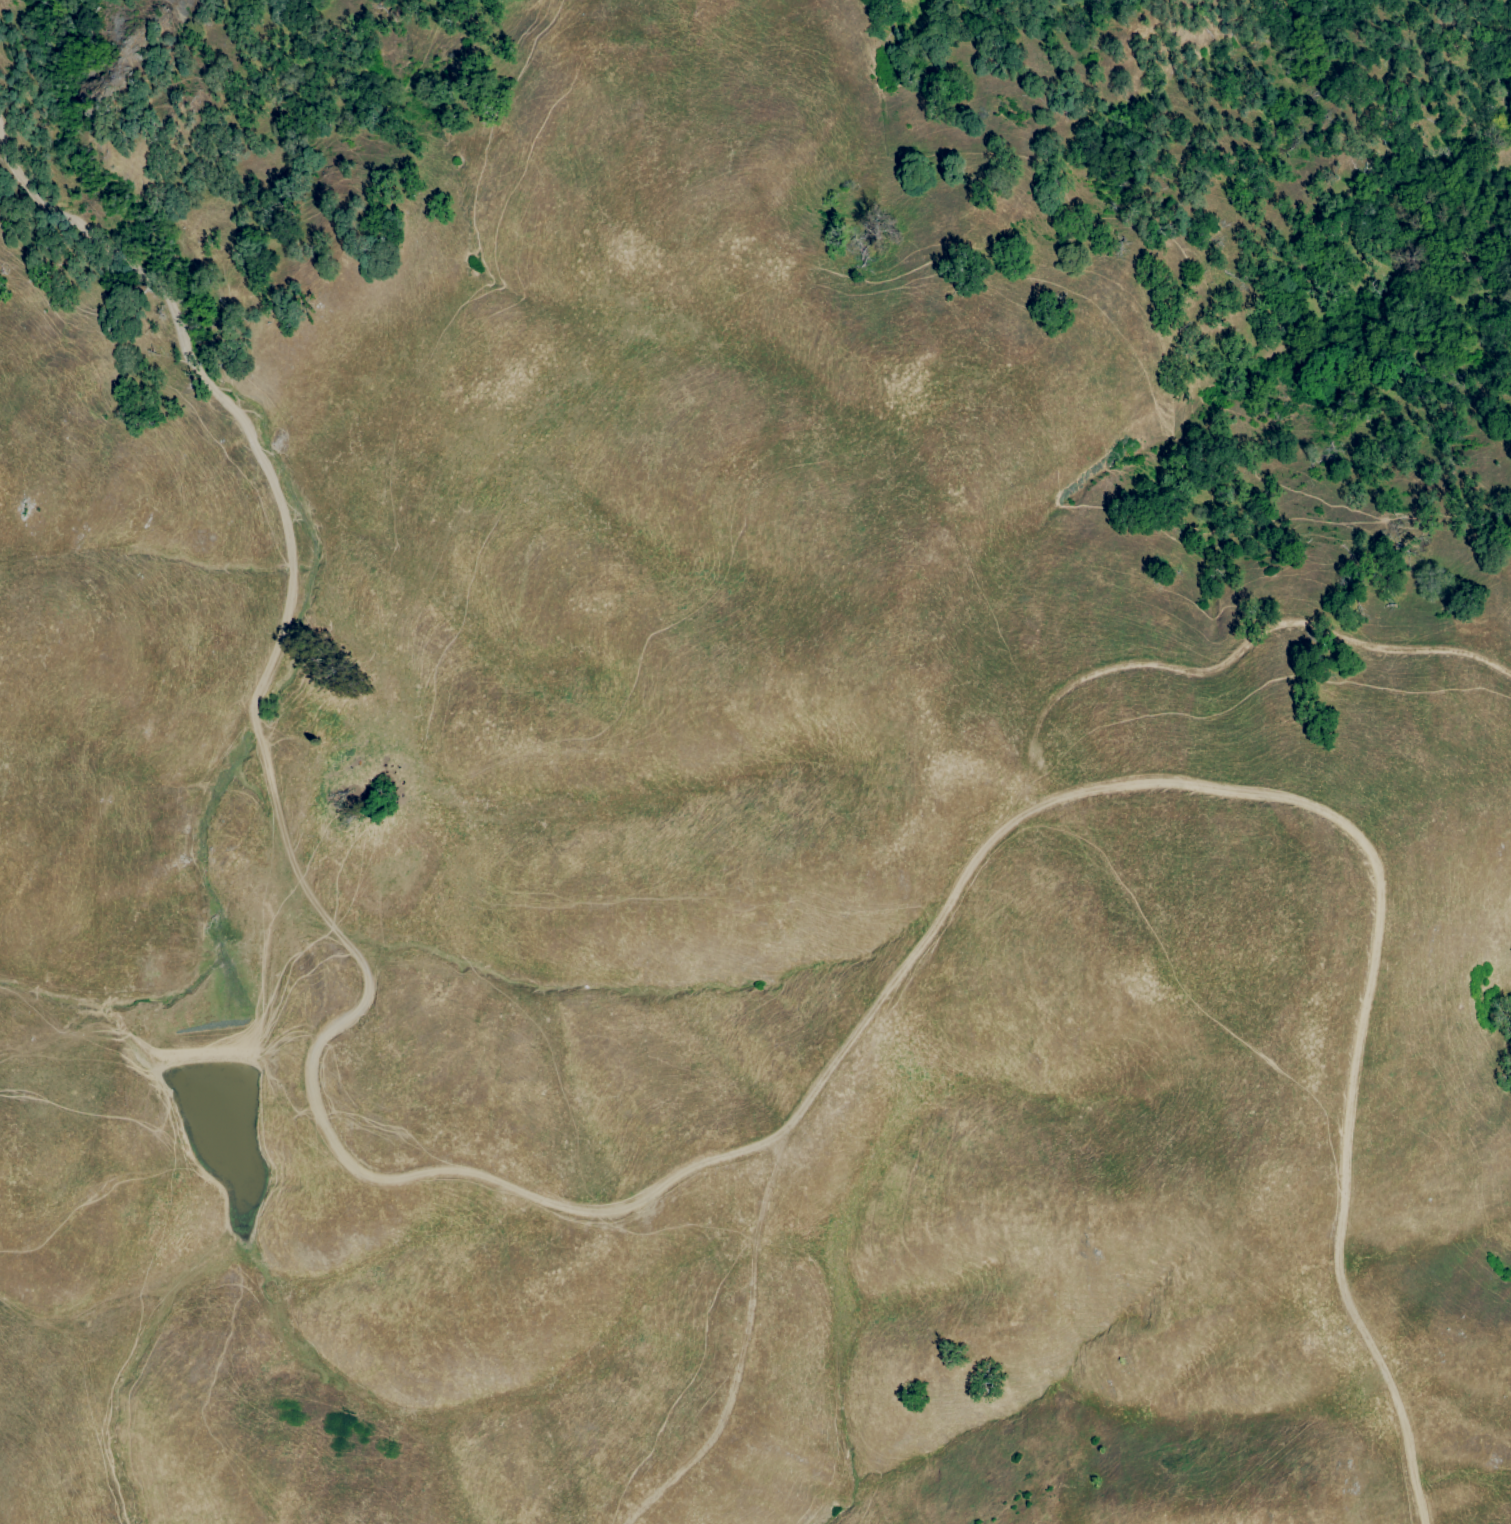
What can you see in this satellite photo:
road: (701, 1166)
road: (741, 1342)

